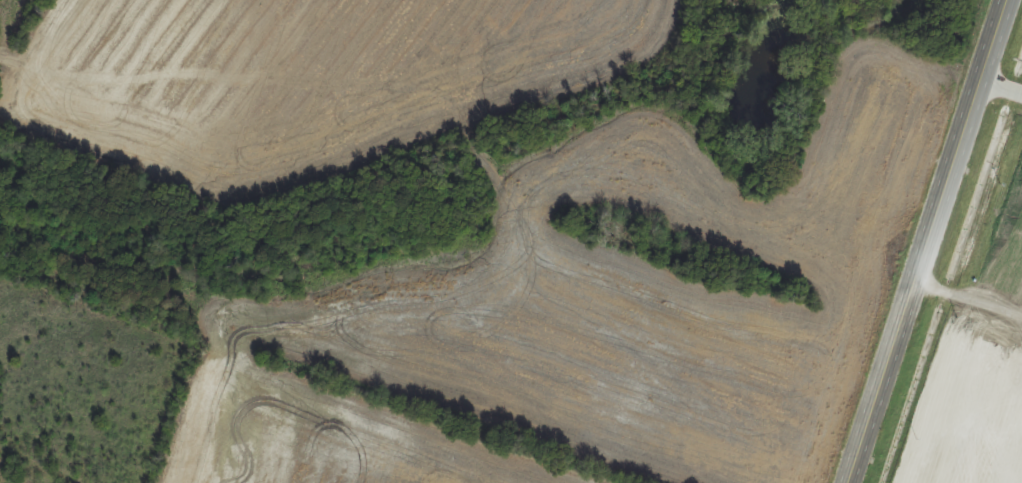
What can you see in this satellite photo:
crop: (306, 76)
road: (1000, 88)
road: (926, 241)

